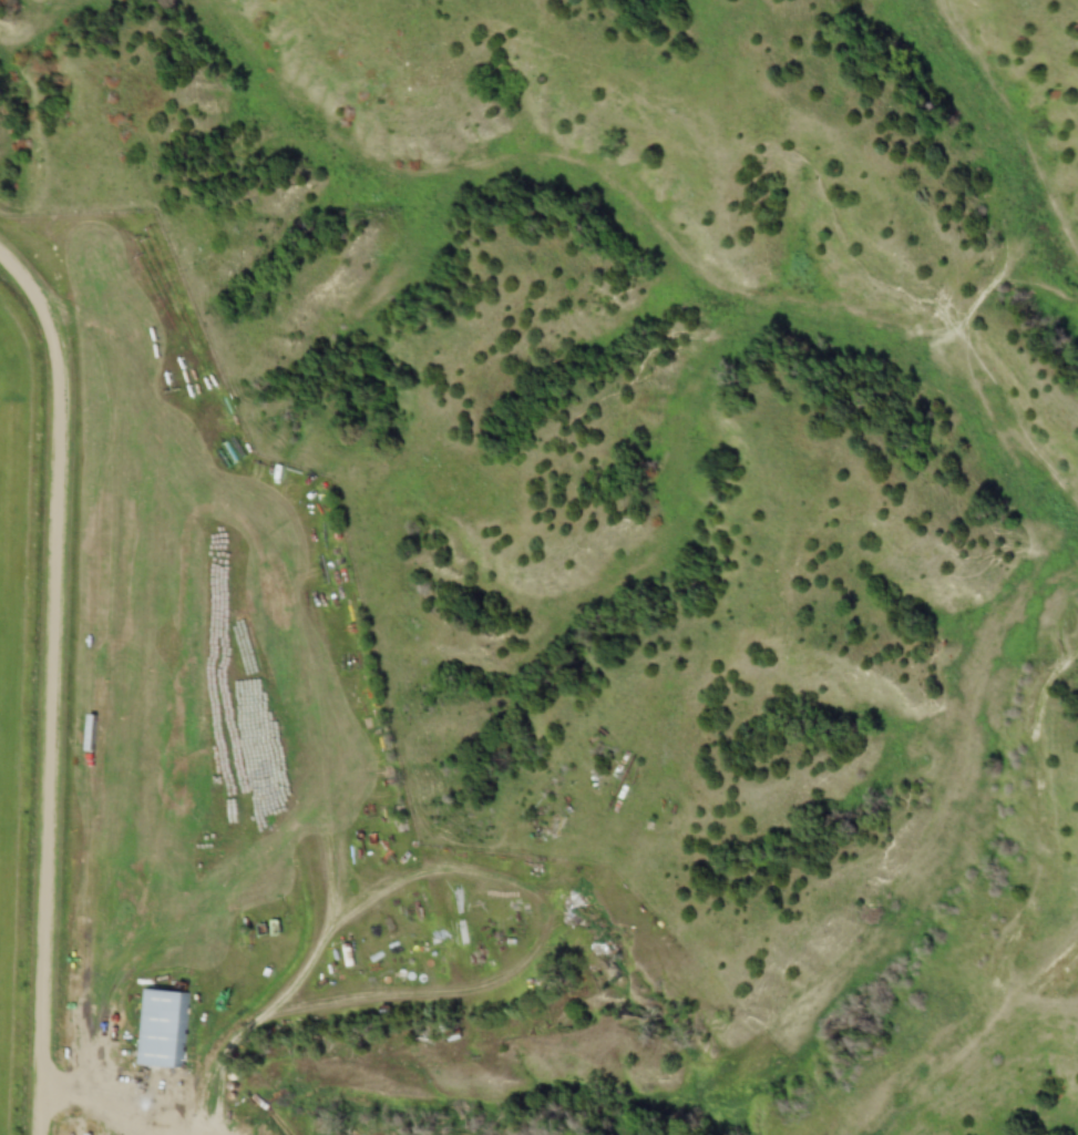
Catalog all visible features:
building: (82, 654)
road: (55, 684)
building: (163, 1029)
road: (127, 1107)

